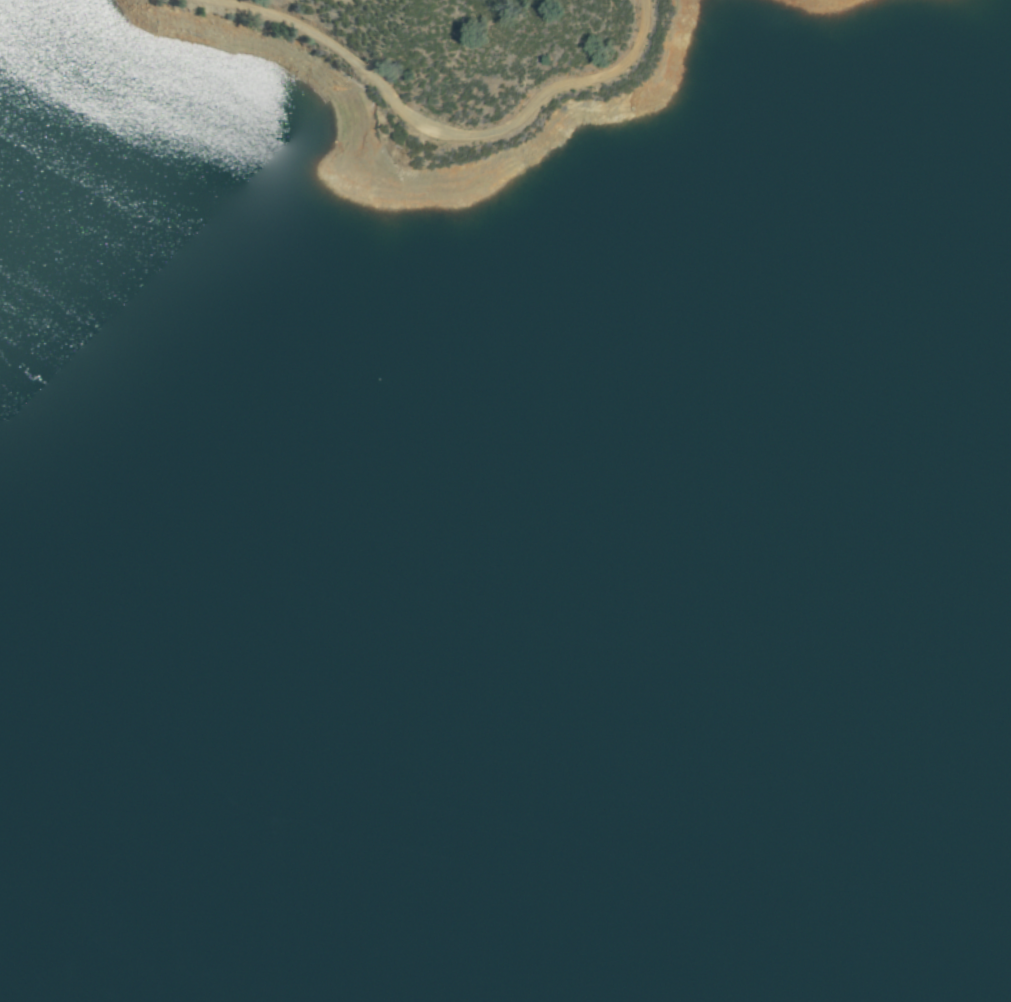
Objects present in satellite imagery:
road: (455, 125)

